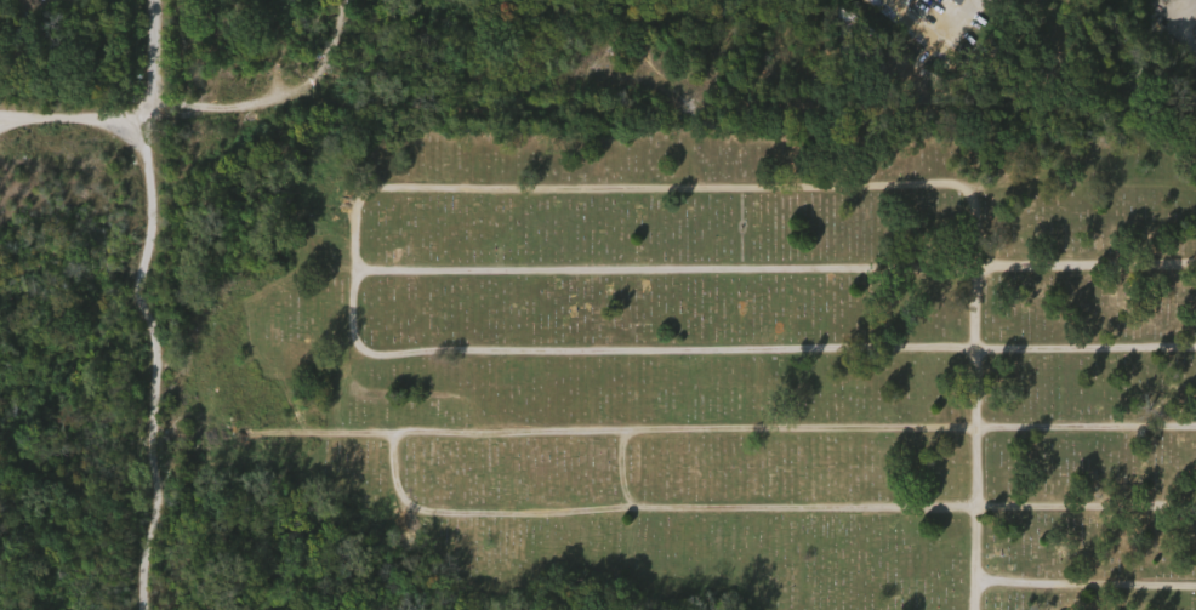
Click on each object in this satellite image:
building: (949, 5)
road: (124, 113)
road: (148, 358)
park: (688, 361)

